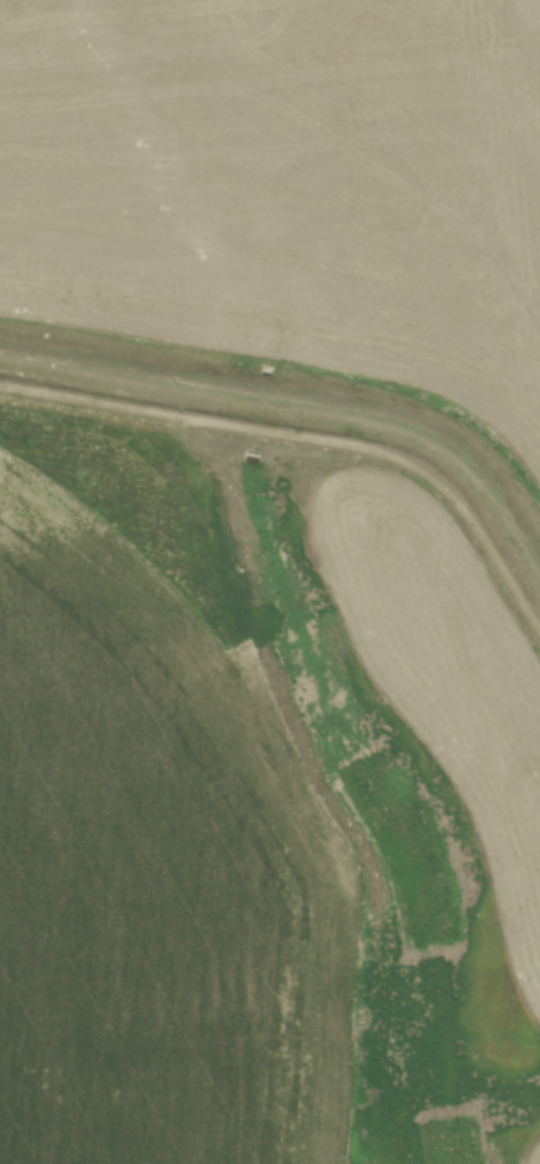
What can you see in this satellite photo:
crop: (151, 879)

